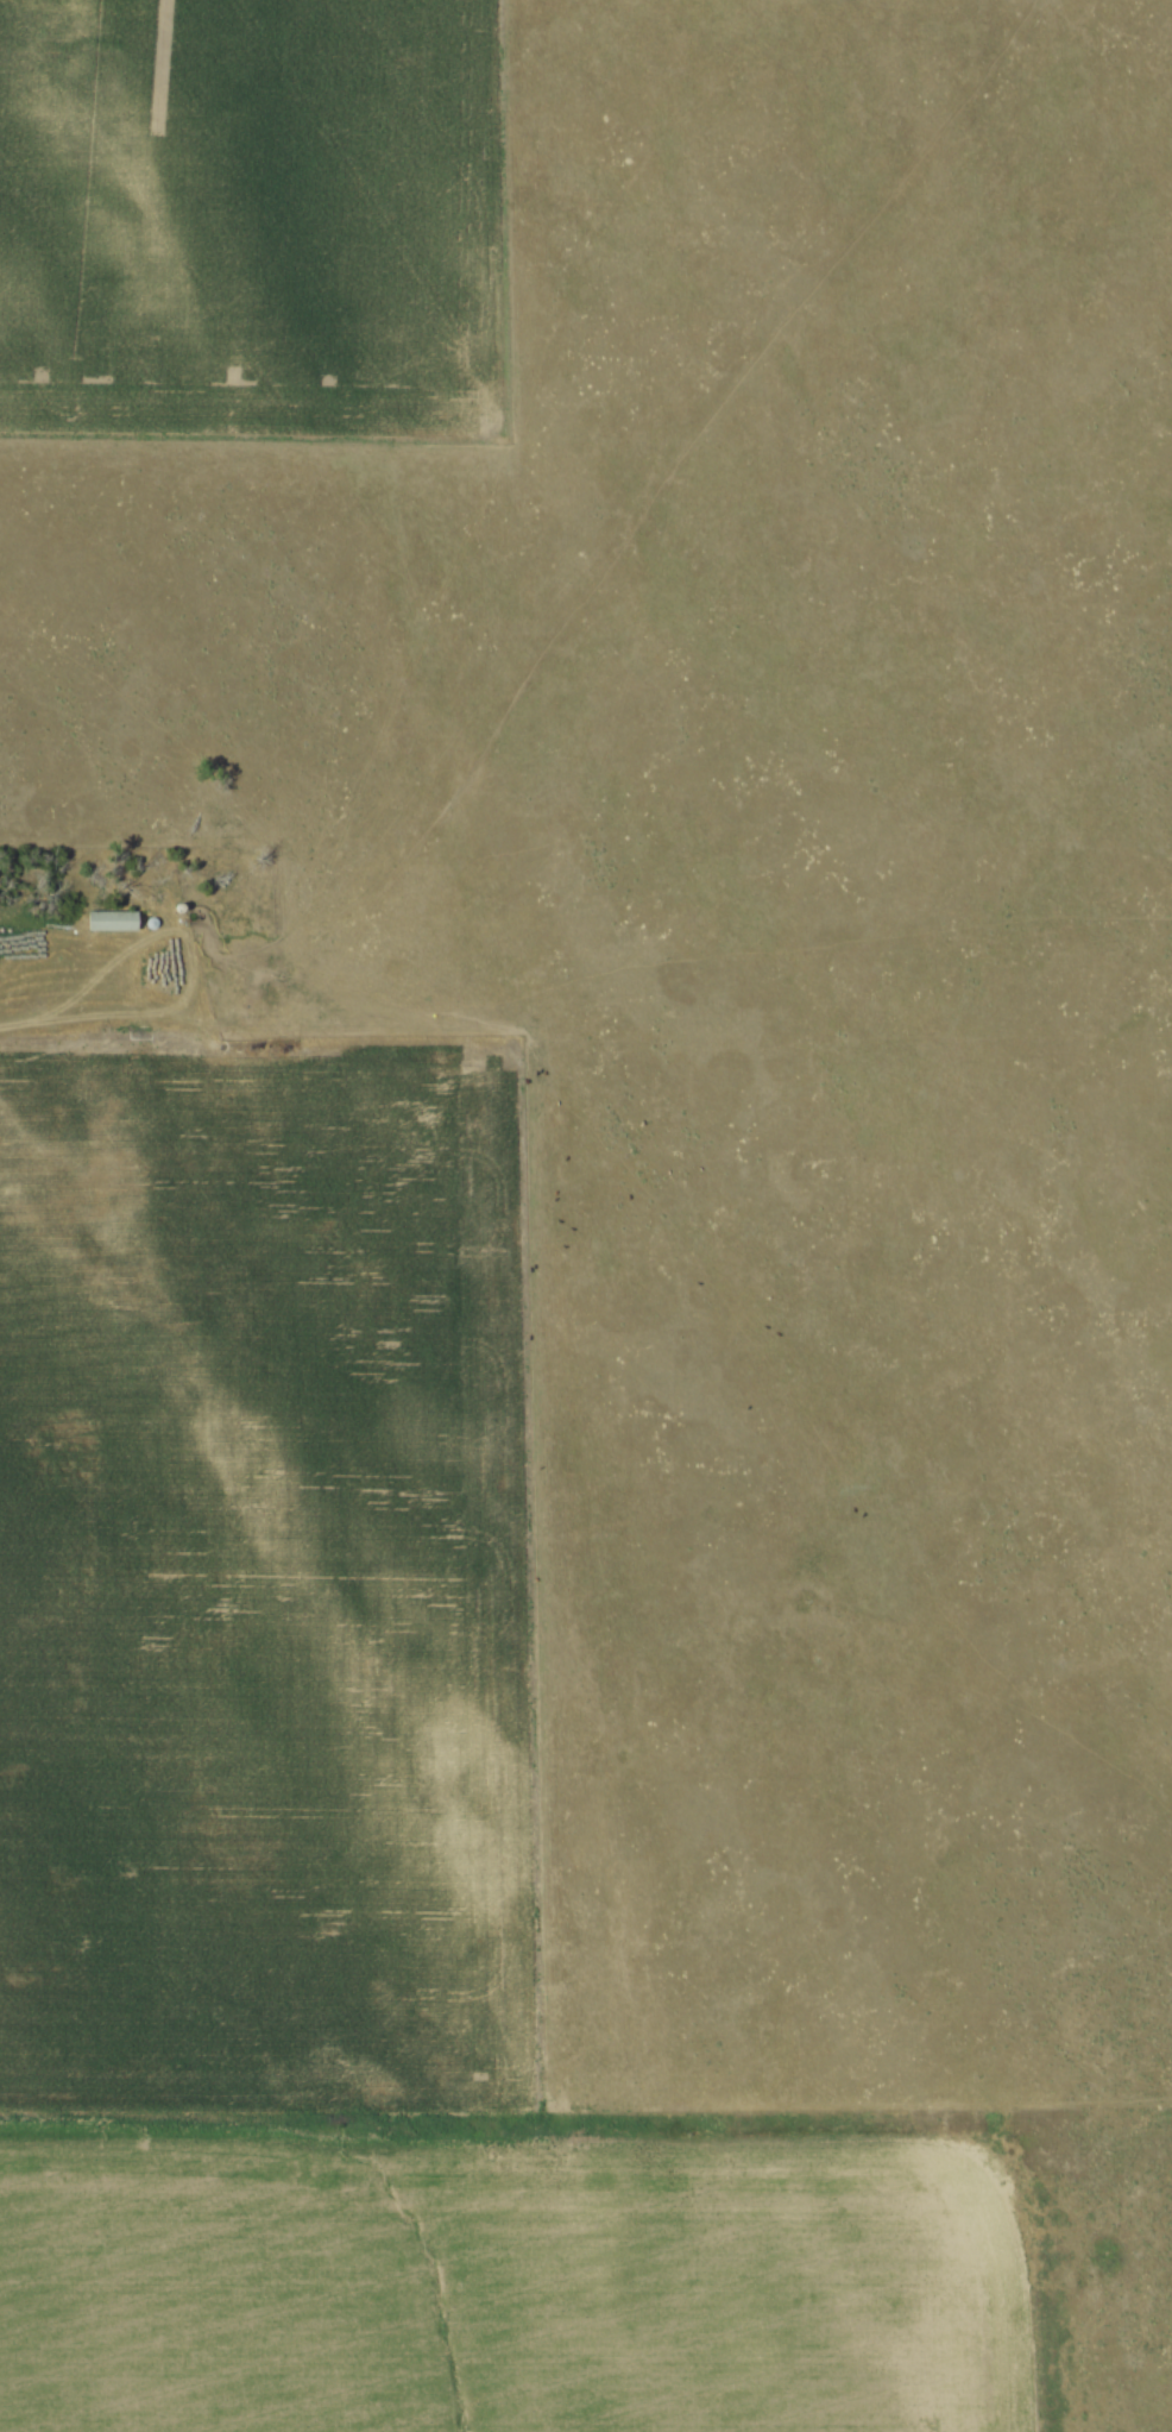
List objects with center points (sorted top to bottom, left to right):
building: (106, 923)
building: (134, 1032)

